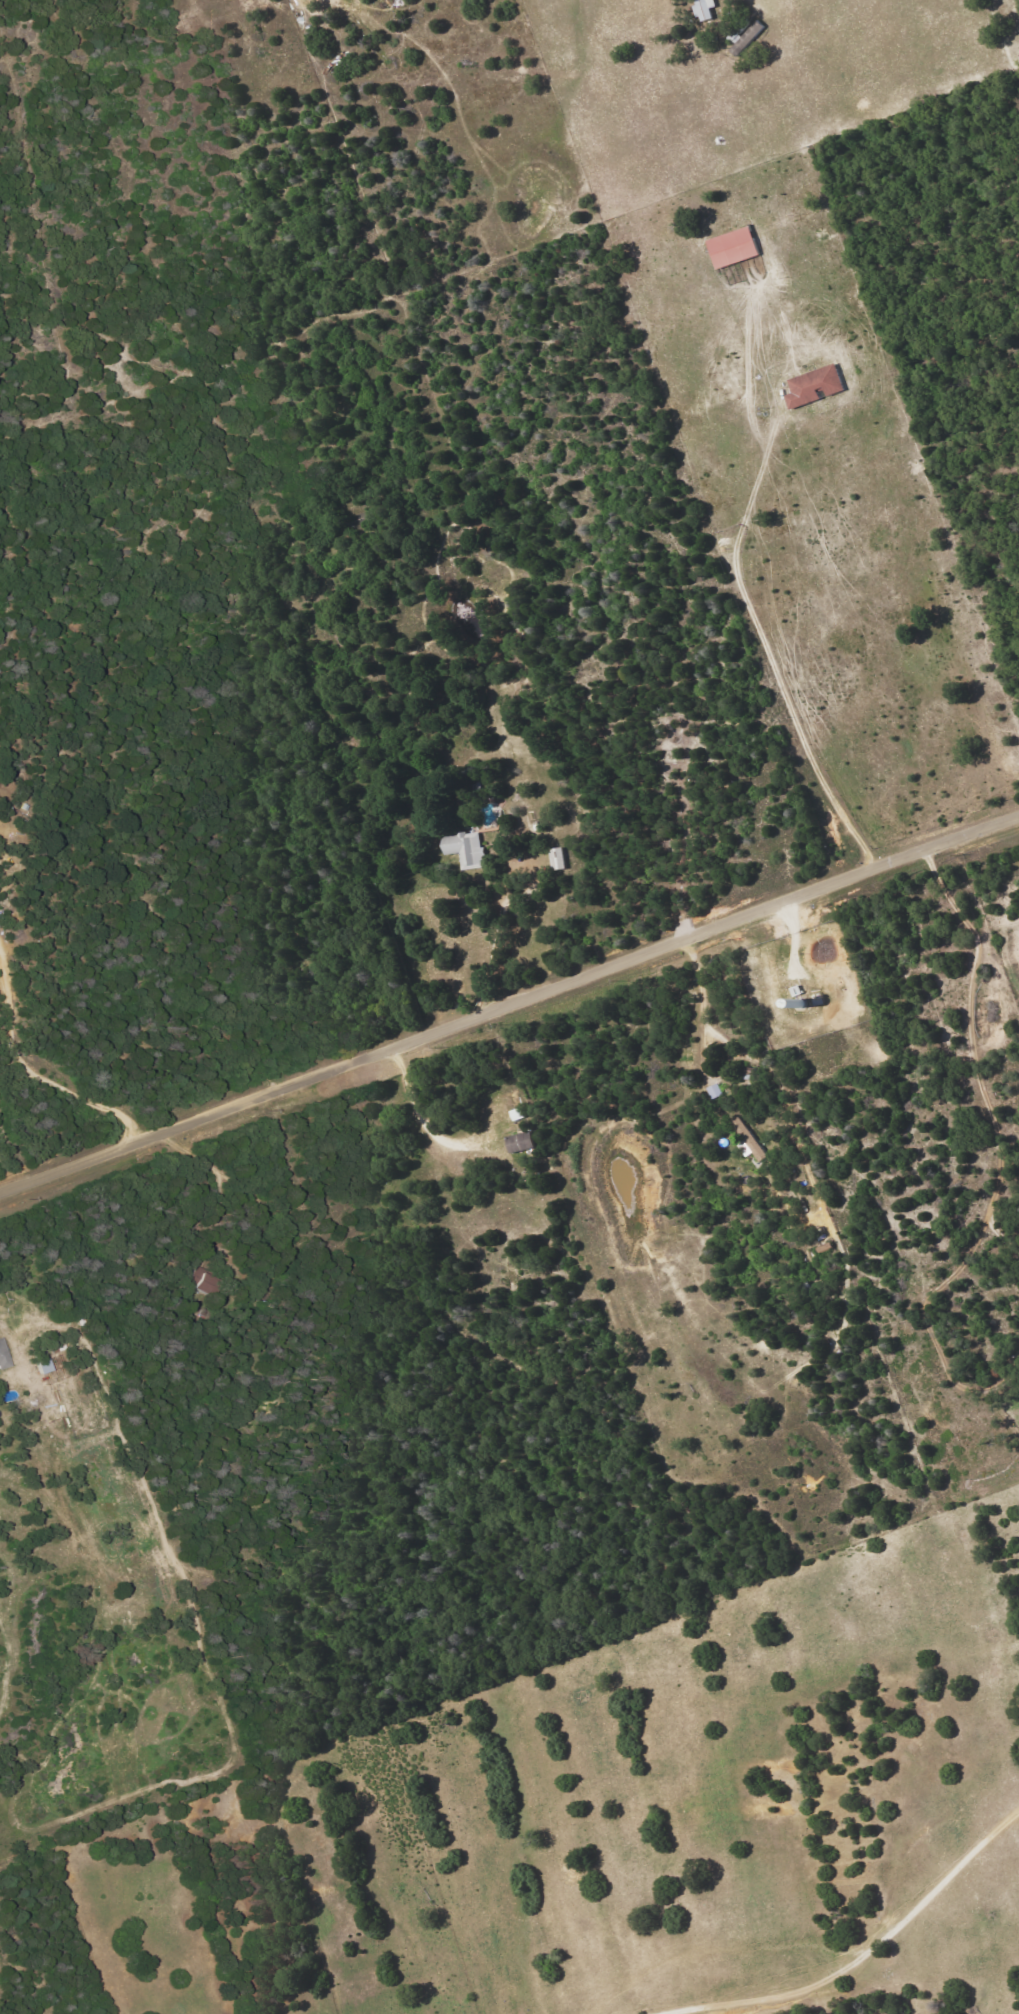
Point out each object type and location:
building: (702, 9)
building: (729, 247)
building: (811, 386)
road: (764, 646)
road: (3, 842)
building: (465, 849)
building: (556, 858)
road: (749, 881)
road: (885, 959)
road: (488, 960)
road: (585, 963)
road: (509, 1005)
road: (723, 1043)
road: (38, 1079)
building: (714, 1090)
road: (423, 1123)
road: (636, 1127)
building: (747, 1140)
building: (518, 1142)
road: (416, 1162)
road: (245, 1187)
building: (4, 1354)
road: (870, 1952)

